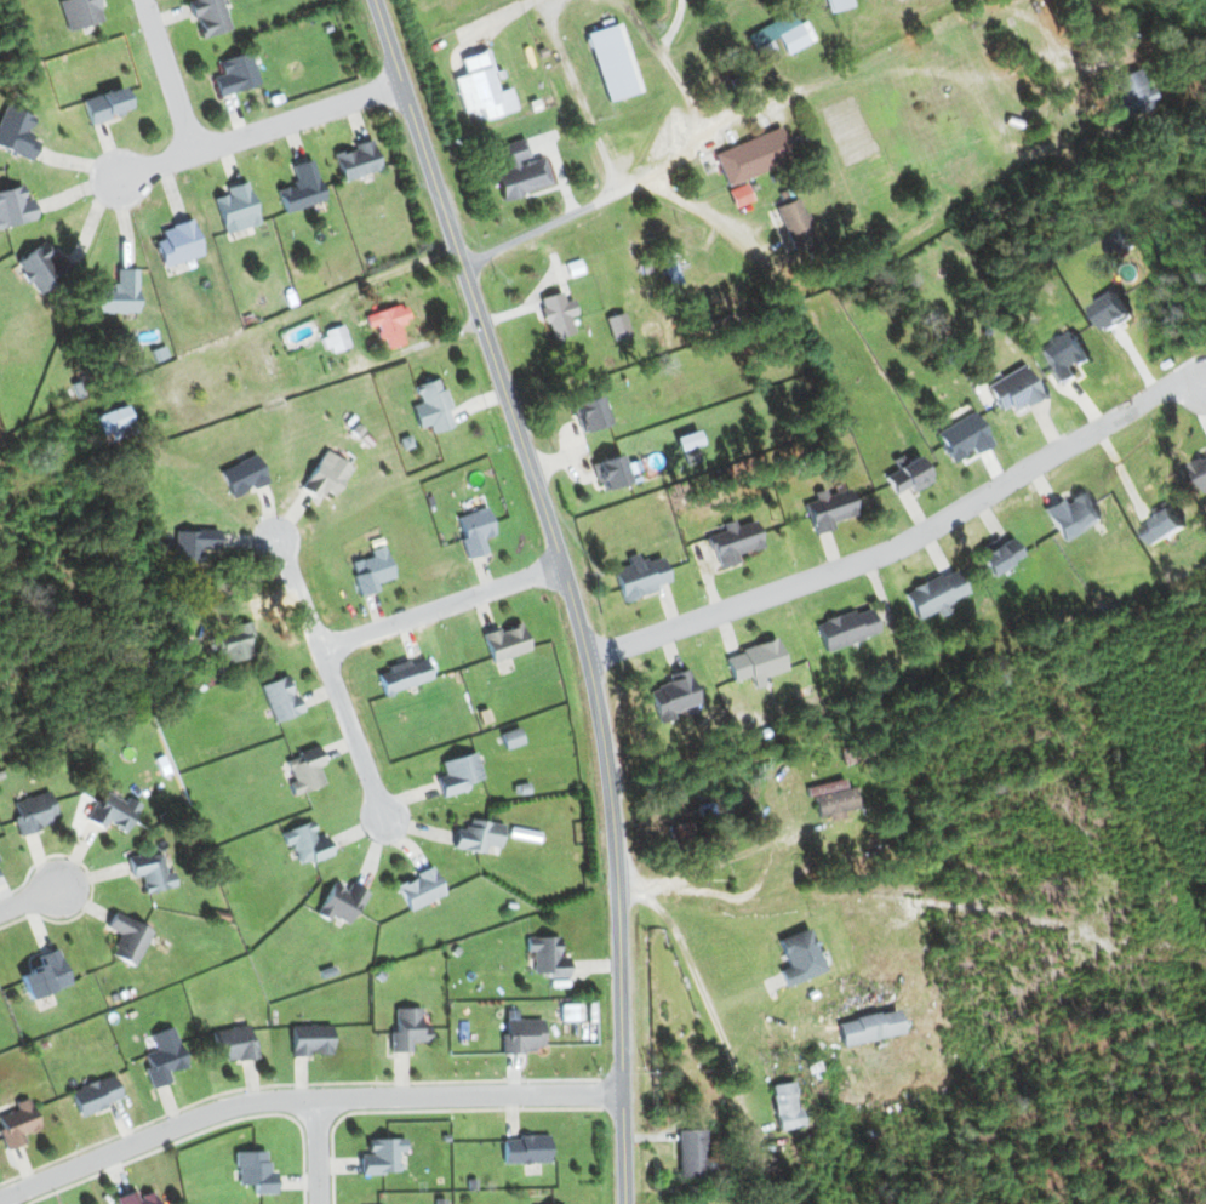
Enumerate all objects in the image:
building: (836, 4)
building: (80, 12)
building: (208, 16)
building: (778, 33)
road: (1047, 33)
building: (612, 62)
building: (235, 74)
road: (170, 75)
building: (481, 87)
road: (674, 87)
building: (1133, 91)
building: (104, 104)
road: (261, 131)
building: (16, 132)
building: (753, 155)
building: (356, 160)
building: (520, 171)
building: (301, 187)
building: (15, 206)
building: (235, 207)
road: (708, 216)
road: (556, 217)
building: (795, 223)
building: (1120, 241)
building: (177, 244)
building: (40, 267)
building: (670, 269)
building: (1113, 309)
building: (556, 314)
building: (389, 324)
building: (617, 326)
building: (335, 338)
building: (1065, 355)
building: (1014, 389)
building: (431, 406)
building: (590, 413)
building: (113, 423)
building: (964, 436)
building: (1201, 470)
building: (612, 472)
building: (242, 475)
building: (326, 475)
building: (908, 475)
building: (829, 509)
building: (1073, 514)
building: (1166, 523)
building: (474, 530)
building: (735, 542)
road: (898, 542)
building: (193, 544)
building: (999, 554)
building: (371, 570)
building: (640, 576)
road: (570, 588)
building: (936, 594)
road: (442, 607)
building: (847, 628)
building: (236, 643)
building: (505, 643)
building: (756, 662)
building: (402, 675)
road: (335, 681)
building: (674, 696)
building: (280, 698)
building: (510, 737)
building: (304, 770)
building: (457, 774)
building: (833, 798)
building: (34, 811)
building: (113, 811)
building: (682, 831)
building: (478, 835)
building: (305, 843)
building: (150, 871)
building: (419, 888)
road: (27, 900)
building: (342, 902)
building: (127, 937)
building: (547, 957)
building: (799, 957)
building: (44, 975)
road: (704, 995)
building: (570, 1011)
building: (869, 1027)
building: (407, 1028)
building: (522, 1034)
building: (310, 1039)
building: (233, 1043)
building: (162, 1056)
building: (95, 1095)
road: (302, 1097)
building: (785, 1106)
building: (17, 1123)
road: (326, 1149)
building: (526, 1149)
building: (691, 1153)
building: (382, 1156)
building: (255, 1171)
building: (136, 1198)

